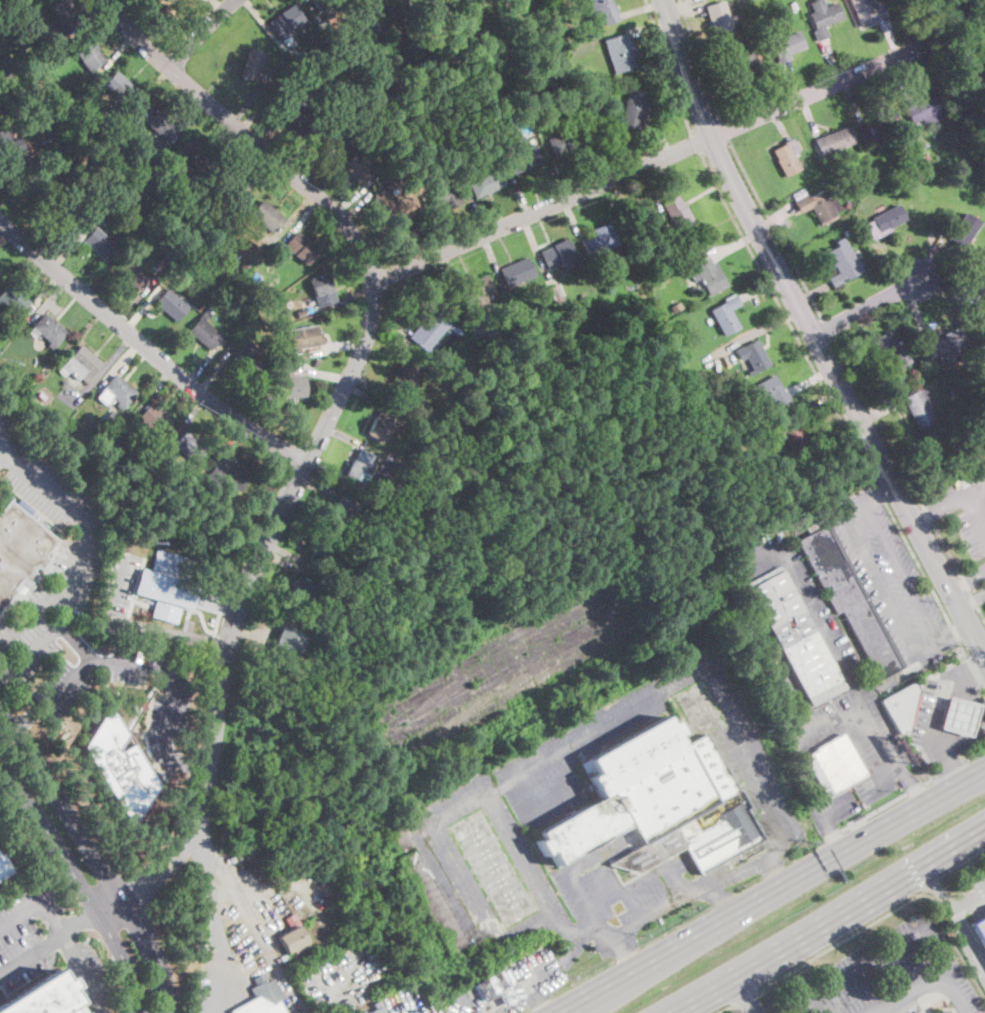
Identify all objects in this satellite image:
building: (324, 4)
road: (680, 4)
building: (794, 4)
road: (219, 5)
building: (512, 7)
road: (643, 7)
building: (787, 8)
road: (312, 10)
road: (95, 11)
building: (602, 11)
building: (867, 11)
building: (25, 13)
building: (738, 13)
building: (64, 15)
building: (824, 16)
building: (717, 17)
road: (260, 19)
building: (286, 20)
building: (371, 26)
building: (324, 28)
building: (517, 28)
road: (649, 30)
road: (203, 32)
building: (489, 38)
road: (891, 38)
building: (786, 43)
building: (23, 50)
road: (117, 51)
building: (620, 52)
building: (89, 53)
building: (479, 57)
building: (468, 58)
building: (1, 60)
road: (700, 60)
road: (831, 61)
building: (252, 65)
road: (667, 65)
building: (747, 67)
building: (18, 69)
building: (325, 69)
road: (160, 77)
building: (479, 78)
road: (792, 78)
road: (898, 78)
building: (119, 86)
road: (814, 91)
building: (32, 94)
road: (755, 99)
building: (483, 100)
building: (332, 102)
road: (248, 104)
building: (290, 104)
road: (856, 105)
building: (1, 106)
building: (633, 108)
building: (922, 109)
road: (810, 115)
road: (189, 117)
building: (356, 118)
building: (160, 122)
road: (259, 122)
road: (779, 123)
building: (882, 125)
road: (724, 130)
road: (246, 134)
building: (321, 137)
road: (660, 138)
building: (834, 140)
building: (564, 142)
road: (695, 142)
building: (8, 144)
building: (161, 144)
road: (224, 145)
building: (69, 148)
road: (293, 152)
building: (195, 153)
building: (520, 155)
building: (926, 157)
building: (787, 158)
road: (12, 162)
building: (356, 168)
road: (590, 168)
road: (7, 177)
road: (263, 178)
building: (32, 181)
building: (486, 182)
building: (228, 187)
road: (652, 189)
building: (899, 190)
road: (517, 191)
building: (800, 192)
building: (135, 193)
road: (356, 193)
building: (443, 196)
building: (391, 203)
building: (847, 205)
building: (819, 206)
road: (475, 207)
road: (541, 209)
road: (358, 211)
building: (64, 212)
road: (309, 213)
building: (676, 214)
building: (978, 215)
road: (294, 216)
building: (266, 217)
road: (774, 217)
road: (571, 219)
building: (885, 221)
road: (773, 229)
building: (963, 229)
road: (449, 230)
building: (847, 231)
road: (66, 236)
building: (79, 236)
building: (600, 240)
building: (100, 242)
road: (735, 243)
road: (936, 245)
road: (535, 246)
building: (301, 247)
building: (171, 249)
building: (557, 253)
road: (62, 255)
road: (928, 256)
road: (494, 258)
building: (621, 259)
road: (881, 260)
building: (843, 261)
building: (244, 266)
building: (517, 271)
building: (135, 272)
road: (444, 273)
building: (708, 275)
building: (211, 283)
building: (551, 284)
road: (940, 287)
road: (761, 288)
building: (323, 289)
building: (474, 290)
road: (44, 292)
road: (811, 292)
building: (976, 295)
building: (13, 298)
road: (137, 299)
building: (261, 300)
road: (50, 301)
road: (340, 301)
road: (56, 304)
building: (172, 305)
road: (865, 306)
road: (141, 307)
building: (676, 307)
road: (915, 310)
building: (301, 314)
building: (726, 314)
road: (788, 318)
road: (395, 319)
road: (827, 327)
building: (49, 330)
road: (760, 330)
road: (810, 330)
building: (205, 331)
building: (430, 331)
building: (304, 338)
building: (681, 339)
building: (493, 341)
road: (346, 343)
building: (946, 345)
road: (146, 347)
building: (890, 350)
building: (754, 356)
road: (852, 357)
road: (207, 361)
building: (245, 362)
building: (678, 362)
road: (119, 364)
building: (81, 365)
road: (102, 371)
road: (214, 371)
road: (322, 373)
building: (404, 375)
road: (811, 380)
building: (290, 383)
road: (374, 384)
building: (956, 389)
road: (154, 390)
building: (117, 391)
building: (769, 392)
building: (961, 395)
road: (369, 396)
building: (44, 399)
road: (812, 403)
building: (919, 408)
road: (879, 410)
building: (742, 414)
building: (155, 419)
road: (188, 419)
building: (110, 420)
building: (382, 423)
building: (791, 435)
parking lot: (9, 438)
road: (231, 440)
road: (352, 440)
building: (189, 447)
building: (756, 457)
building: (361, 466)
building: (226, 475)
road: (908, 479)
road: (322, 487)
road: (878, 490)
road: (881, 492)
road: (965, 493)
building: (408, 503)
parking lot: (962, 508)
building: (342, 514)
road: (921, 515)
road: (265, 541)
building: (18, 548)
building: (323, 549)
parking lot: (77, 552)
road: (78, 553)
road: (287, 553)
road: (285, 561)
parking lot: (888, 575)
parking lot: (120, 579)
road: (926, 579)
road: (118, 580)
road: (799, 580)
road: (969, 580)
building: (167, 584)
building: (301, 592)
building: (848, 597)
road: (973, 599)
road: (219, 601)
road: (37, 610)
parking lot: (742, 622)
building: (97, 623)
road: (953, 629)
road: (168, 630)
road: (248, 631)
road: (264, 631)
building: (795, 635)
building: (290, 641)
road: (984, 645)
road: (916, 647)
road: (135, 664)
road: (975, 669)
road: (3, 670)
road: (974, 670)
road: (781, 673)
road: (983, 688)
building: (900, 703)
road: (939, 711)
parking lot: (166, 712)
parking lot: (949, 715)
building: (958, 715)
road: (25, 719)
road: (976, 721)
road: (881, 740)
parking lot: (873, 741)
road: (975, 756)
building: (119, 765)
road: (199, 765)
building: (835, 765)
road: (950, 769)
road: (951, 772)
road: (932, 780)
road: (882, 781)
road: (917, 788)
road: (810, 790)
building: (657, 801)
road: (61, 802)
parking lot: (844, 805)
road: (835, 807)
road: (874, 812)
road: (832, 835)
road: (51, 837)
road: (170, 865)
building: (5, 867)
road: (809, 869)
road: (963, 869)
road: (934, 886)
road: (936, 887)
parking lot: (973, 893)
road: (211, 902)
road: (312, 902)
road: (968, 902)
parking lot: (307, 903)
building: (431, 908)
road: (831, 918)
road: (78, 920)
road: (261, 923)
building: (980, 930)
road: (63, 934)
building: (292, 935)
road: (842, 939)
parking lot: (44, 940)
road: (968, 941)
road: (149, 952)
road: (32, 955)
building: (283, 957)
road: (123, 959)
road: (877, 962)
road: (539, 972)
parking lot: (537, 974)
parking lot: (888, 975)
parking lot: (347, 978)
parking lot: (218, 982)
road: (217, 986)
road: (332, 987)
building: (495, 988)
road: (601, 991)
road: (908, 992)
road: (954, 992)
road: (745, 995)
road: (538, 996)
building: (263, 997)
building: (43, 998)
road: (747, 999)
parking lot: (407, 1002)
parking lot: (472, 1004)
road: (488, 1009)
road: (727, 1009)
building: (378, 1010)
road: (411, 1011)
road: (484, 1012)
building: (920, 1012)

